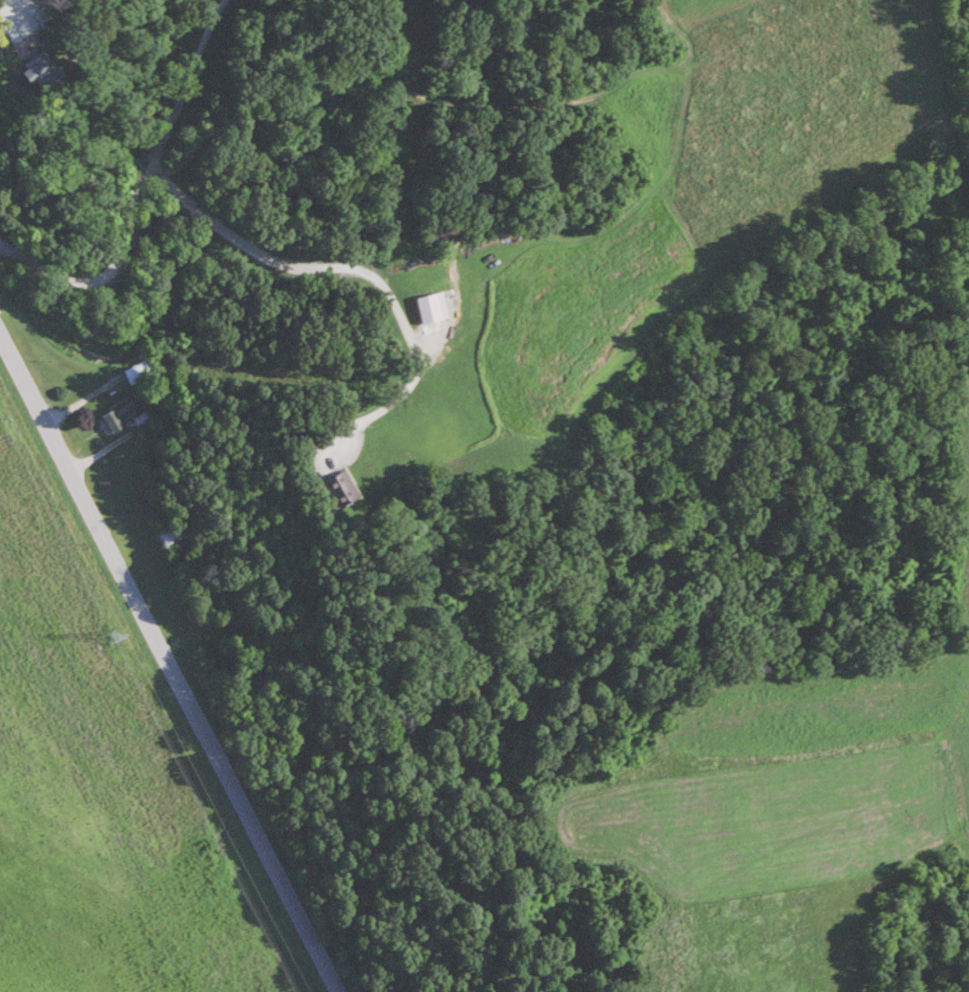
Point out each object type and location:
road: (96, 128)
building: (433, 307)
building: (138, 372)
building: (125, 415)
building: (344, 484)
building: (169, 536)
road: (169, 664)

